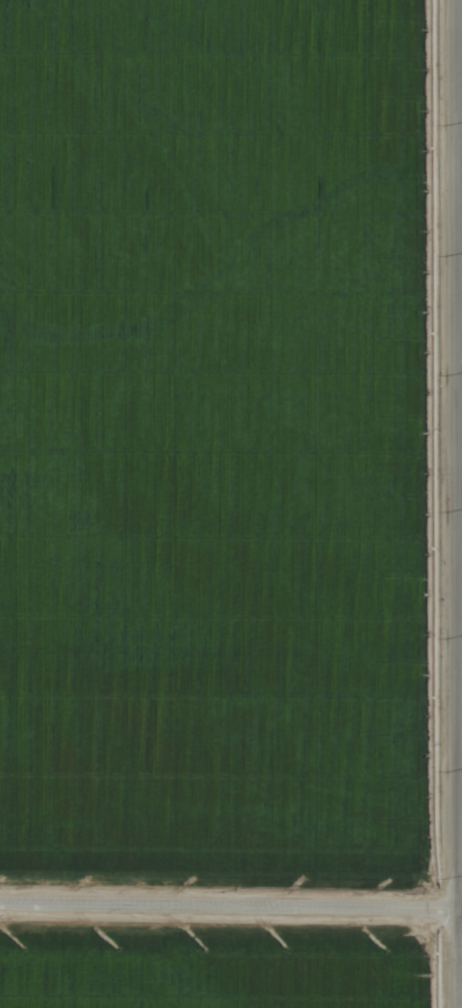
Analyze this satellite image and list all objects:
road: (459, 503)
road: (231, 886)

